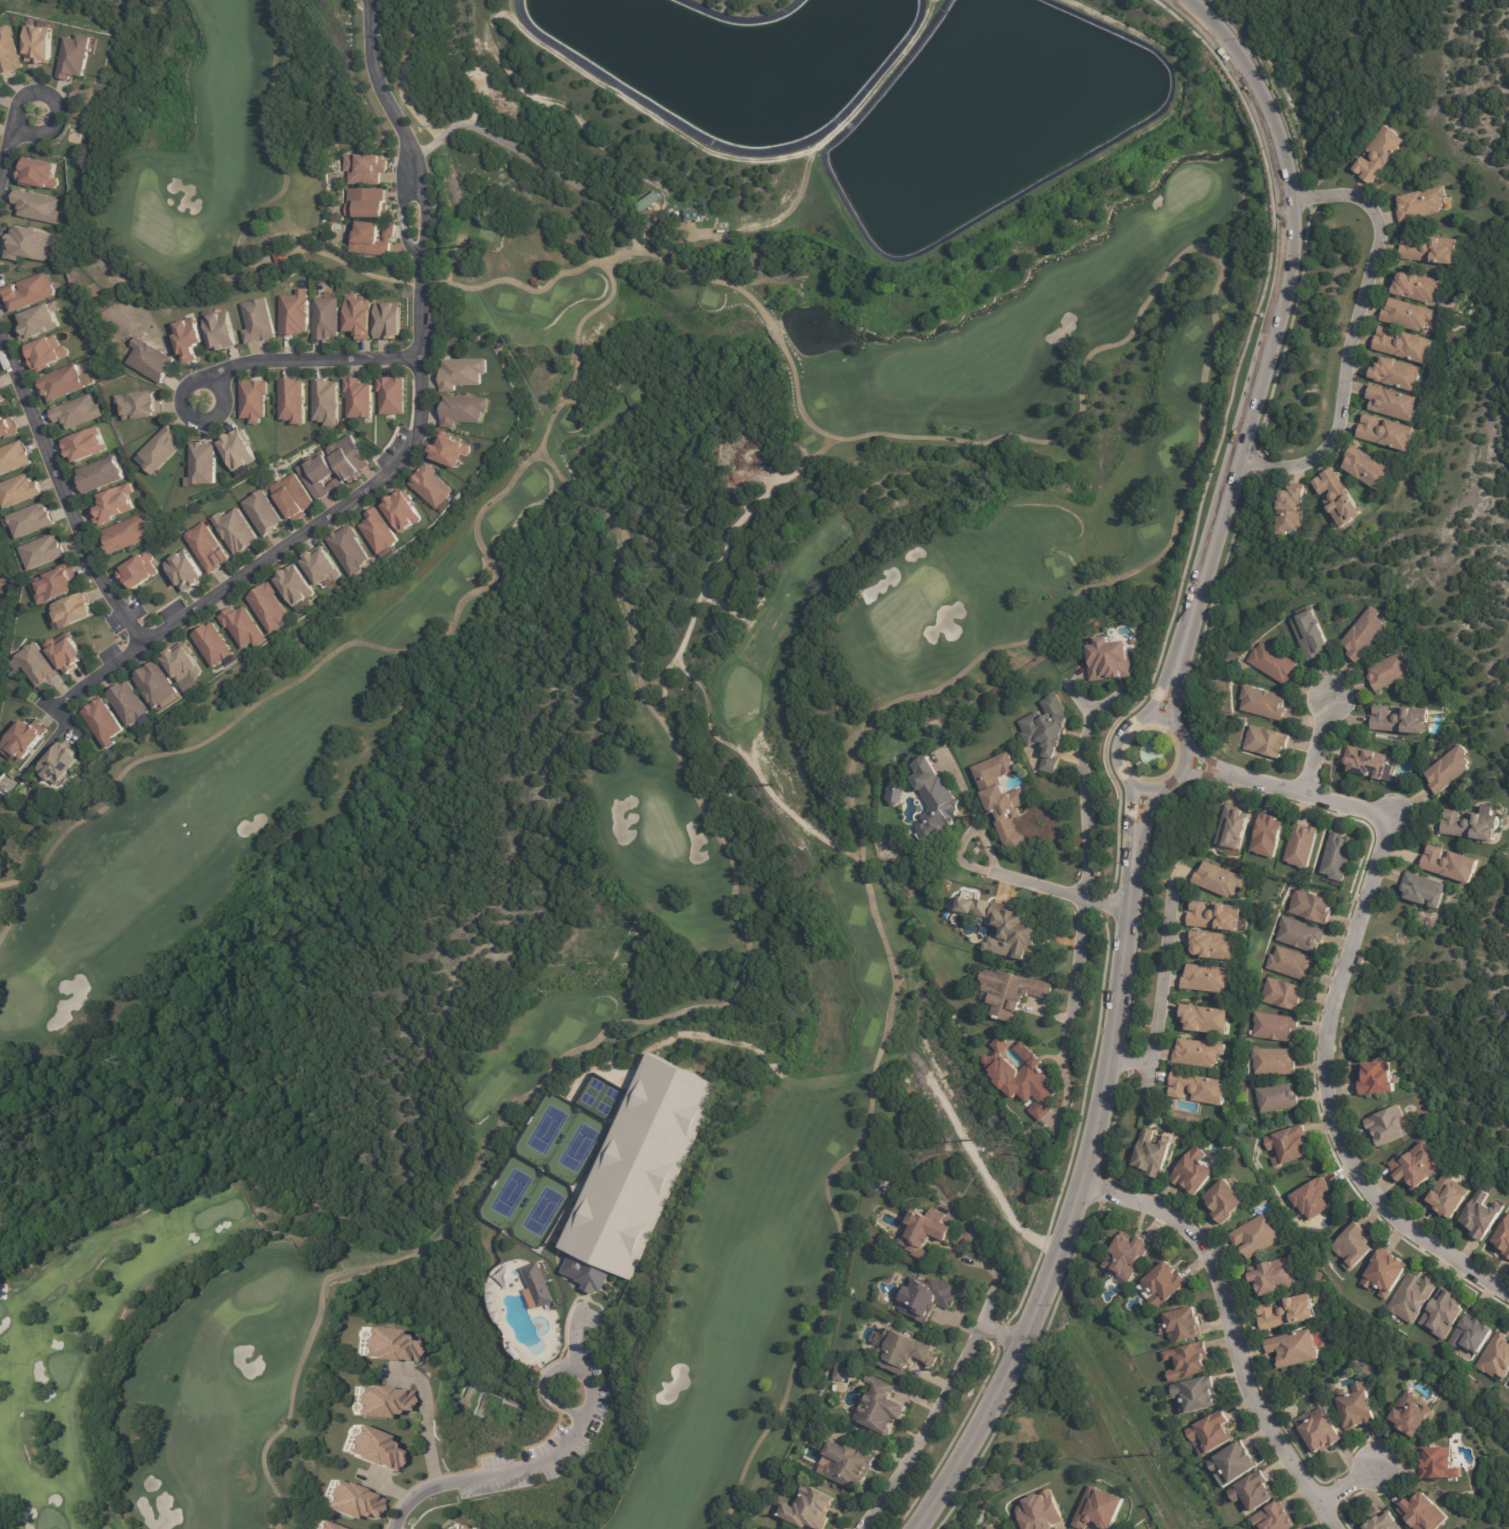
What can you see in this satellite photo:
building: (39, 43)
building: (8, 51)
building: (74, 57)
building: (0, 91)
road: (9, 141)
road: (524, 154)
building: (1379, 155)
building: (364, 169)
building: (36, 172)
building: (365, 203)
building: (647, 203)
building: (1422, 204)
building: (35, 206)
building: (694, 214)
building: (369, 239)
building: (28, 243)
power tower: (470, 250)
building: (1430, 250)
building: (281, 261)
building: (1416, 287)
building: (28, 292)
building: (293, 314)
building: (1408, 315)
building: (356, 318)
building: (325, 319)
building: (386, 321)
building: (36, 322)
building: (255, 323)
road: (1351, 330)
building: (217, 331)
building: (186, 339)
road: (1265, 342)
building: (1403, 345)
building: (46, 352)
road: (302, 358)
building: (148, 361)
building: (460, 374)
building: (1395, 375)
building: (58, 384)
building: (390, 396)
building: (1, 398)
building: (357, 399)
building: (252, 401)
building: (290, 402)
building: (325, 402)
building: (1391, 403)
building: (137, 407)
building: (462, 411)
building: (75, 412)
building: (6, 427)
building: (1386, 433)
road: (411, 436)
building: (83, 445)
building: (237, 450)
building: (449, 450)
building: (158, 451)
building: (12, 457)
building: (347, 459)
building: (201, 465)
building: (1366, 469)
building: (98, 475)
building: (317, 476)
building: (430, 486)
building: (18, 490)
road: (60, 494)
building: (291, 498)
building: (1338, 499)
building: (111, 504)
building: (401, 511)
building: (1291, 513)
building: (261, 514)
building: (30, 520)
building: (234, 532)
building: (377, 532)
building: (126, 533)
building: (205, 548)
building: (348, 551)
building: (39, 552)
building: (320, 566)
building: (138, 570)
building: (183, 571)
building: (52, 584)
building: (292, 587)
park: (6, 608)
building: (266, 609)
building: (70, 611)
building: (240, 629)
building: (1364, 633)
building: (1311, 634)
building: (211, 646)
building: (65, 652)
building: (1109, 658)
building: (1273, 662)
building: (182, 667)
building: (1389, 671)
building: (48, 679)
building: (154, 684)
building: (1263, 702)
building: (127, 706)
building: (1401, 718)
building: (101, 723)
building: (1047, 729)
building: (22, 737)
road: (48, 740)
building: (1266, 741)
road: (1315, 745)
road: (1190, 749)
building: (56, 762)
building: (1366, 763)
building: (1449, 769)
power tower: (772, 785)
road: (1083, 790)
building: (894, 792)
building: (1001, 795)
building: (934, 799)
park: (578, 816)
building: (1472, 824)
building: (1233, 827)
building: (1267, 835)
building: (1302, 845)
road: (986, 847)
building: (1337, 856)
building: (1450, 863)
road: (986, 870)
building: (1220, 879)
building: (1424, 890)
building: (1311, 906)
building: (1218, 915)
building: (1015, 930)
building: (1300, 934)
building: (1213, 945)
building: (1291, 964)
road: (1078, 972)
building: (1207, 978)
road: (1158, 989)
road: (1338, 989)
building: (1011, 992)
building: (1283, 994)
building: (1204, 1019)
building: (1275, 1027)
building: (1198, 1053)
building: (1273, 1062)
building: (1377, 1079)
building: (1024, 1080)
road: (1143, 1084)
building: (1197, 1088)
building: (1277, 1098)
building: (1387, 1126)
park: (548, 1128)
power tower: (974, 1140)
building: (1289, 1145)
park: (579, 1147)
building: (1152, 1155)
building: (642, 1164)
building: (1416, 1166)
building: (1193, 1173)
road: (1082, 1176)
park: (511, 1192)
building: (1448, 1197)
building: (1313, 1200)
building: (1224, 1202)
park: (543, 1210)
building: (1482, 1216)
building: (924, 1235)
building: (1259, 1236)
building: (1503, 1239)
building: (1353, 1247)
building: (1126, 1258)
road: (995, 1274)
building: (1385, 1274)
building: (1275, 1278)
building: (538, 1283)
building: (1165, 1285)
building: (1413, 1298)
building: (926, 1299)
building: (1288, 1313)
building: (1443, 1314)
building: (1183, 1325)
road: (1228, 1328)
road: (1003, 1336)
building: (1472, 1337)
building: (383, 1344)
building: (1295, 1349)
building: (904, 1354)
building: (1496, 1358)
building: (1188, 1362)
building: (840, 1373)
building: (1508, 1382)
building: (1197, 1395)
building: (379, 1401)
building: (1271, 1401)
building: (1357, 1408)
building: (879, 1412)
building: (1411, 1417)
road: (425, 1418)
road: (930, 1430)
building: (1321, 1433)
building: (936, 1434)
building: (1212, 1434)
building: (369, 1448)
power tower: (1151, 1454)
road: (541, 1462)
building: (1235, 1464)
building: (847, 1466)
building: (1440, 1466)
road: (1346, 1487)
building: (1254, 1493)
building: (349, 1500)
building: (810, 1510)
building: (1098, 1510)
building: (1040, 1512)
building: (1423, 1514)
building: (1274, 1519)
building: (1384, 1523)
building: (321, 1526)
building: (451, 1526)
building: (469, 1527)
building: (988, 1528)

